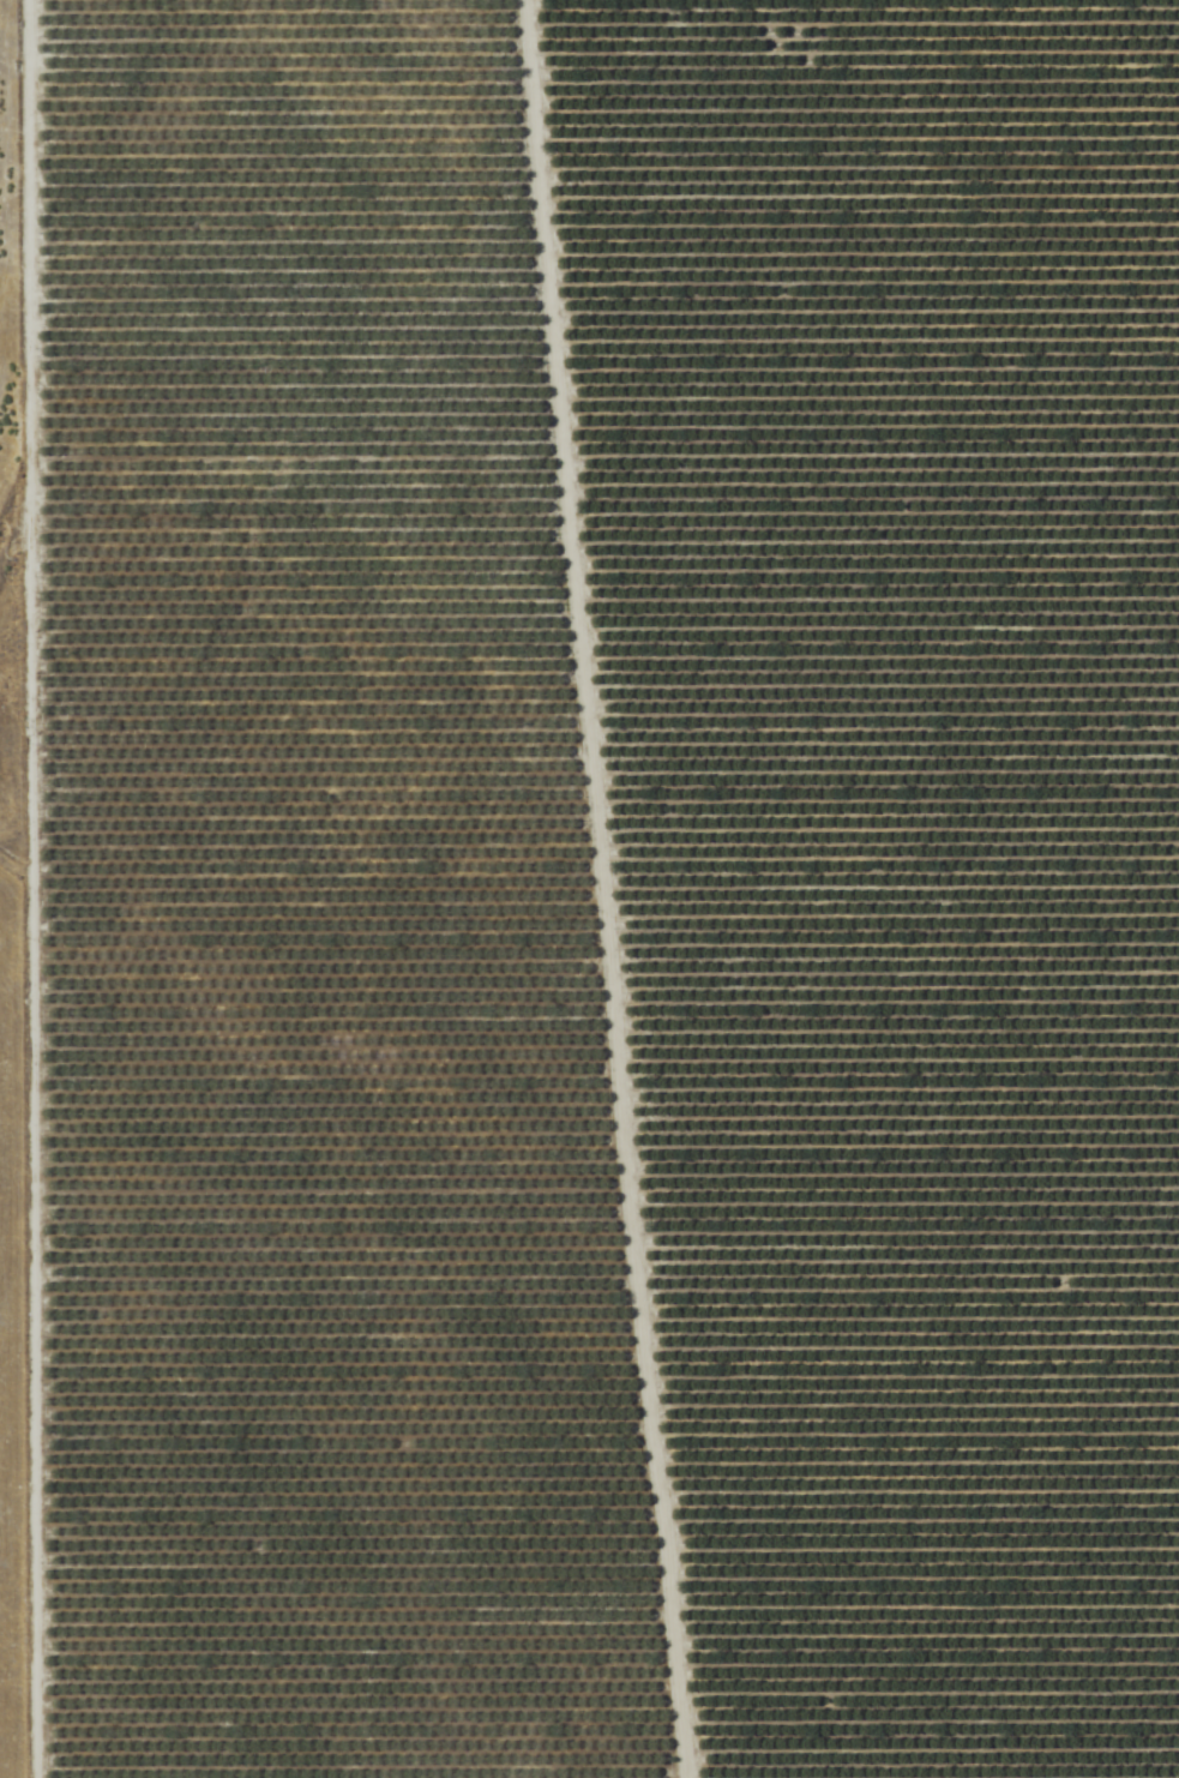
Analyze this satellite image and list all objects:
crop: (594, 887)
railway: (531, 889)
railway: (542, 889)

